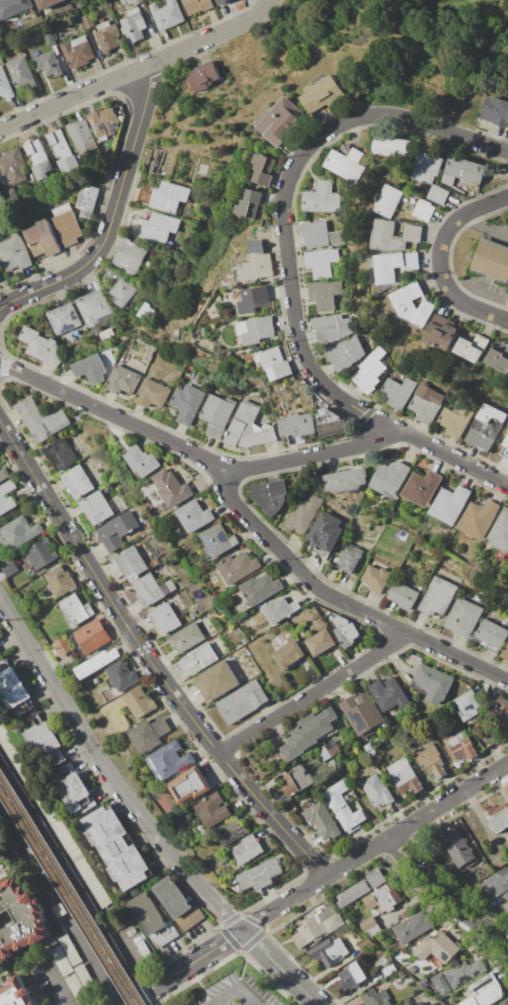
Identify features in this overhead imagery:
building: (133, 2)
building: (223, 2)
building: (47, 4)
building: (196, 6)
building: (14, 7)
building: (165, 13)
building: (87, 21)
building: (133, 26)
building: (107, 36)
building: (49, 38)
building: (77, 52)
building: (48, 64)
road: (505, 70)
building: (21, 73)
road: (141, 73)
park: (343, 77)
building: (201, 81)
building: (5, 85)
building: (323, 95)
building: (495, 112)
road: (398, 119)
building: (281, 121)
building: (103, 123)
building: (80, 136)
building: (390, 147)
building: (61, 149)
building: (38, 159)
building: (349, 162)
building: (13, 166)
building: (427, 168)
building: (264, 170)
building: (463, 176)
building: (438, 195)
building: (163, 197)
building: (322, 199)
building: (0, 201)
building: (87, 201)
building: (389, 202)
building: (250, 205)
building: (423, 210)
building: (66, 222)
road: (114, 225)
road: (485, 225)
building: (152, 226)
building: (321, 236)
building: (395, 236)
building: (42, 240)
building: (14, 254)
building: (130, 257)
road: (441, 259)
building: (491, 260)
building: (321, 262)
building: (257, 263)
building: (393, 266)
building: (109, 274)
building: (122, 292)
building: (325, 295)
building: (251, 299)
building: (413, 305)
building: (94, 309)
building: (145, 311)
road: (295, 312)
building: (64, 319)
building: (332, 328)
building: (94, 330)
building: (256, 331)
building: (441, 333)
building: (107, 334)
building: (42, 347)
building: (472, 348)
building: (345, 353)
building: (498, 360)
building: (274, 363)
building: (90, 370)
building: (370, 371)
building: (123, 381)
building: (396, 393)
building: (152, 394)
building: (187, 403)
building: (426, 403)
building: (216, 414)
building: (455, 419)
building: (41, 420)
building: (330, 422)
building: (298, 426)
building: (248, 428)
building: (485, 428)
road: (373, 439)
building: (505, 450)
building: (60, 454)
building: (141, 461)
building: (3, 474)
building: (392, 478)
building: (346, 480)
building: (78, 482)
building: (422, 488)
building: (173, 489)
building: (270, 496)
building: (6, 497)
building: (450, 505)
building: (98, 508)
building: (303, 515)
building: (194, 516)
road: (250, 520)
building: (478, 520)
building: (117, 531)
building: (21, 532)
building: (325, 534)
building: (501, 535)
building: (216, 540)
building: (42, 553)
building: (350, 558)
building: (131, 563)
building: (155, 564)
building: (238, 567)
building: (9, 568)
building: (377, 579)
building: (61, 581)
building: (39, 583)
building: (260, 589)
building: (152, 590)
building: (403, 596)
building: (438, 597)
building: (76, 610)
building: (279, 610)
building: (193, 615)
building: (463, 617)
building: (165, 619)
building: (213, 630)
building: (345, 630)
building: (491, 636)
building: (91, 637)
building: (186, 638)
building: (320, 643)
building: (61, 648)
building: (505, 652)
building: (0, 654)
building: (288, 656)
road: (148, 657)
building: (199, 658)
building: (96, 663)
building: (96, 680)
building: (119, 680)
building: (216, 681)
building: (432, 684)
building: (14, 690)
road: (315, 693)
building: (389, 694)
building: (242, 701)
building: (140, 703)
building: (467, 705)
building: (498, 709)
building: (362, 714)
building: (309, 733)
building: (149, 734)
building: (43, 740)
building: (461, 746)
building: (334, 751)
building: (325, 754)
building: (169, 761)
building: (431, 761)
road: (112, 771)
building: (405, 777)
building: (297, 781)
building: (191, 786)
building: (74, 789)
building: (377, 791)
building: (507, 796)
building: (343, 807)
building: (213, 810)
building: (497, 817)
building: (322, 821)
building: (231, 832)
building: (0, 842)
road: (374, 847)
building: (116, 848)
building: (458, 849)
building: (247, 850)
building: (1, 854)
road: (62, 870)
building: (259, 875)
building: (498, 883)
building: (361, 888)
railway: (71, 889)
railway: (66, 897)
building: (383, 899)
road: (441, 901)
road: (74, 904)
building: (177, 904)
building: (59, 910)
building: (20, 919)
building: (153, 920)
building: (317, 927)
building: (370, 927)
building: (412, 927)
building: (133, 943)
building: (365, 946)
building: (437, 948)
building: (70, 950)
building: (329, 952)
building: (60, 958)
road: (186, 969)
road: (282, 969)
building: (389, 970)
building: (411, 970)
building: (464, 973)
building: (401, 974)
building: (352, 976)
building: (86, 981)
road: (52, 982)
building: (440, 984)
building: (77, 989)
road: (234, 990)
building: (486, 990)
building: (16, 992)
parking lot: (238, 992)
building: (376, 998)
building: (504, 1002)
building: (422, 1003)
parking lot: (187, 1004)
building: (411, 1004)
building: (431, 1004)

